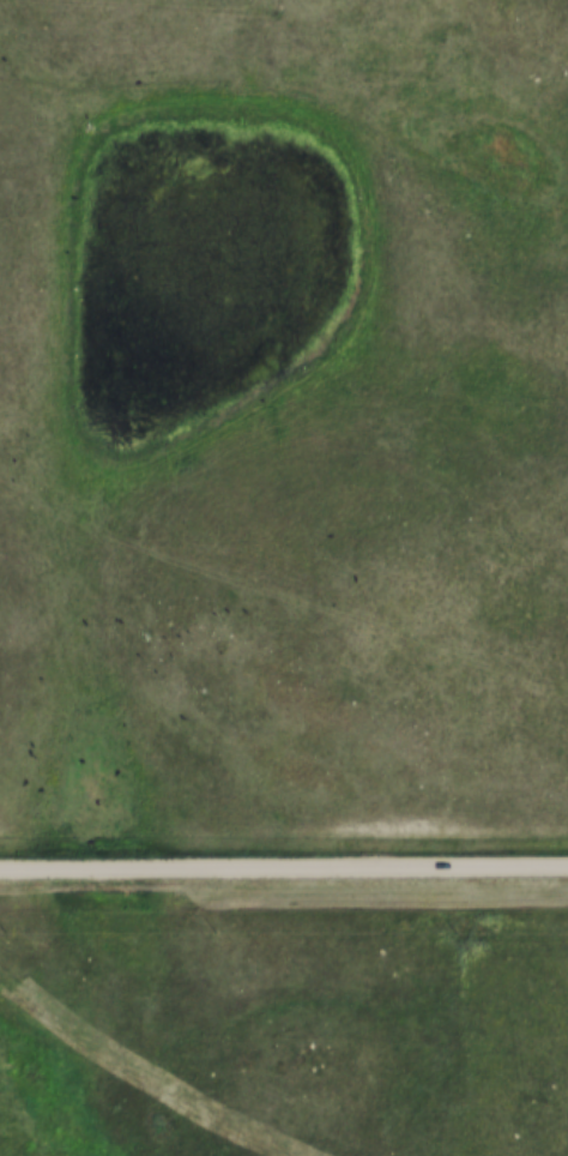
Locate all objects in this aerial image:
road: (284, 871)

